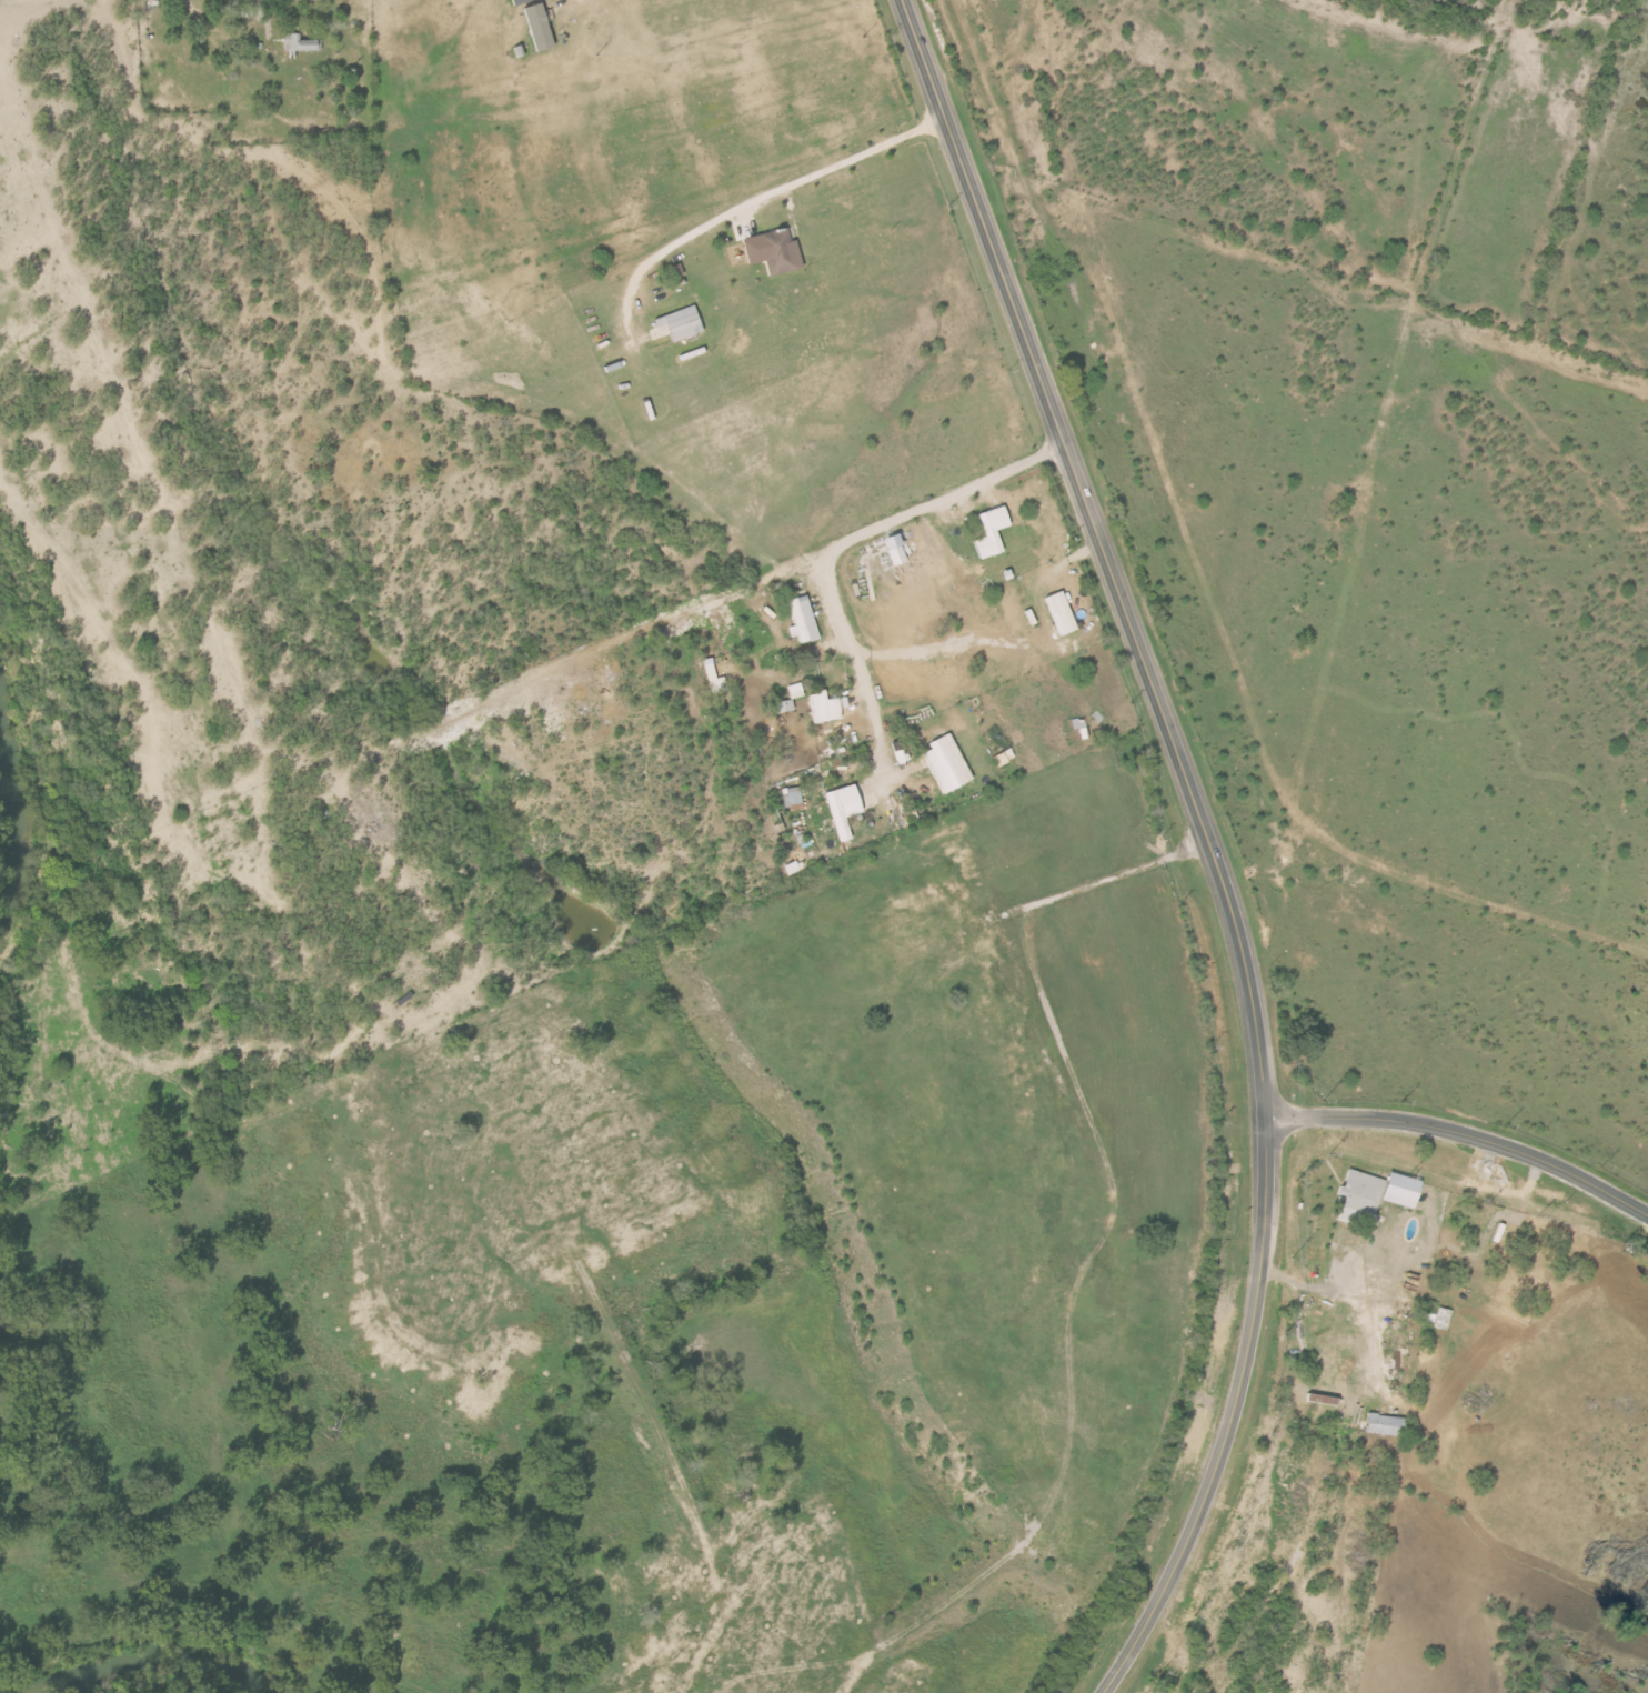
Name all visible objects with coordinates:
building: (519, 2)
building: (541, 27)
building: (299, 42)
road: (760, 199)
building: (775, 251)
building: (682, 323)
building: (994, 532)
road: (837, 550)
building: (897, 550)
building: (1062, 613)
building: (804, 620)
building: (715, 681)
building: (785, 707)
building: (826, 708)
building: (948, 764)
river: (13, 791)
building: (795, 799)
building: (845, 809)
road: (1207, 840)
road: (1465, 1135)
building: (1370, 1193)
building: (1379, 1424)
river: (147, 1660)

